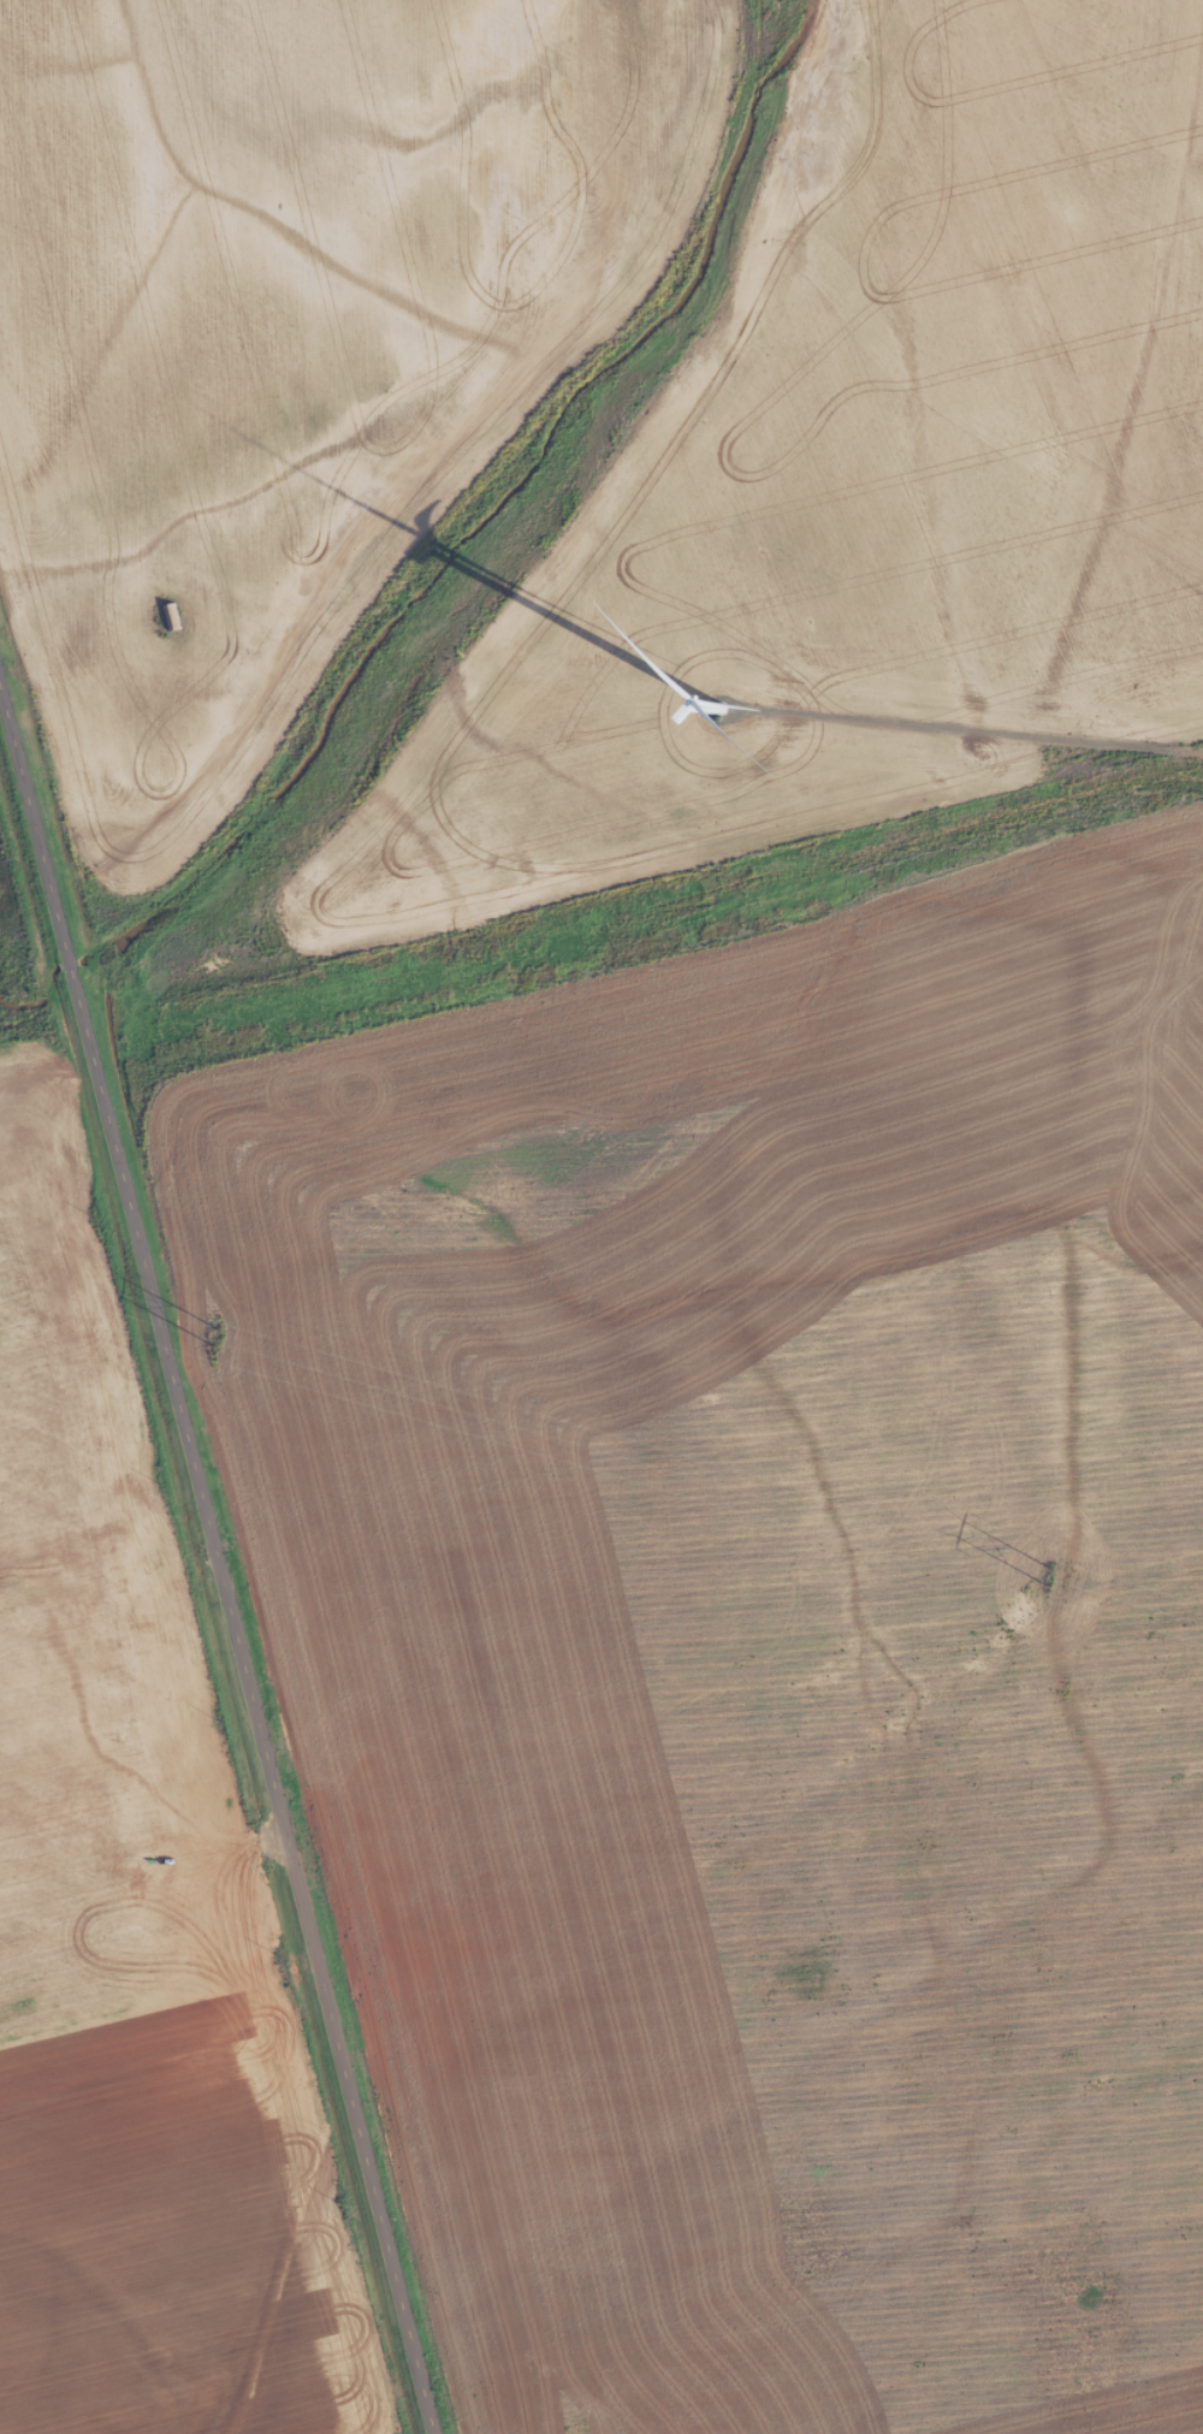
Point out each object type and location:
wind turbine: (715, 711)
power tower: (212, 1337)
road: (218, 1556)
power tower: (1047, 1579)

